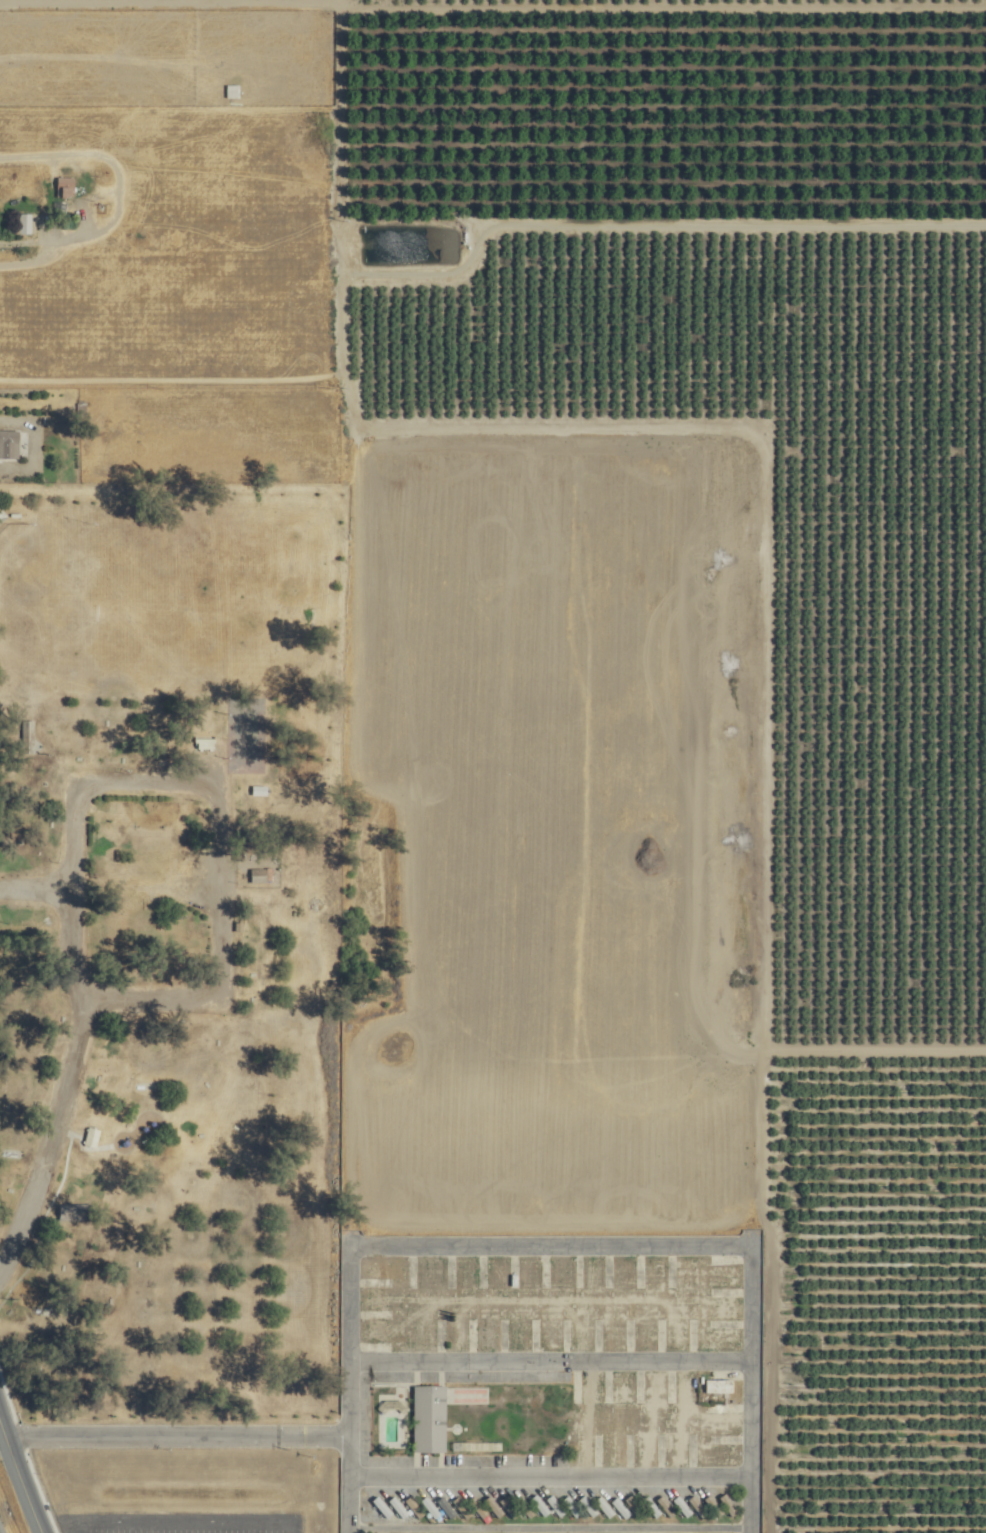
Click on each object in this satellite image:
building: (69, 187)
road: (95, 208)
building: (28, 223)
building: (150, 243)
road: (550, 439)
building: (11, 444)
crop: (622, 603)
building: (30, 734)
building: (207, 745)
road: (213, 788)
building: (151, 891)
park: (169, 1009)
building: (94, 1138)
road: (51, 1140)
building: (78, 1212)
road: (601, 1244)
building: (430, 1419)
road: (177, 1432)
road: (20, 1479)
road: (353, 1483)
building: (570, 1504)
building: (541, 1506)
building: (652, 1507)
building: (684, 1507)
building: (622, 1509)

